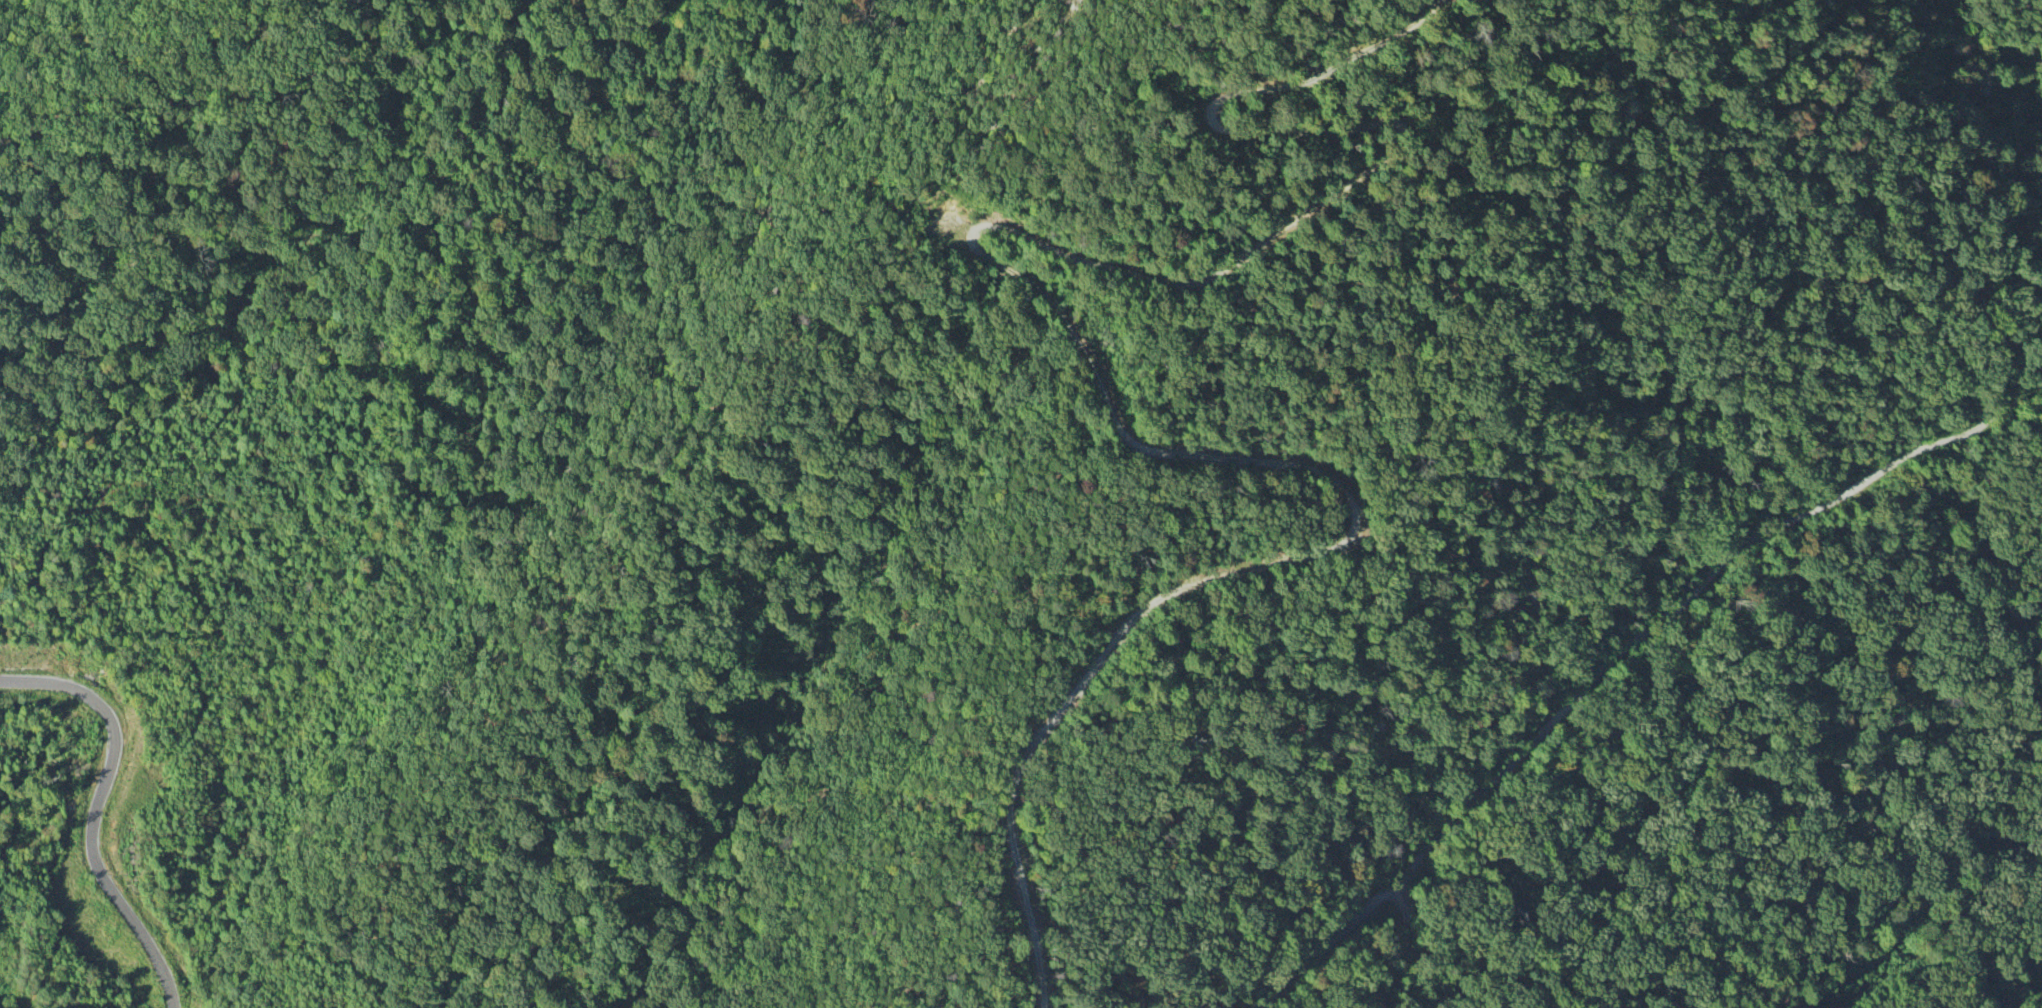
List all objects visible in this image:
road: (1066, 326)
road: (1618, 654)
road: (89, 809)

